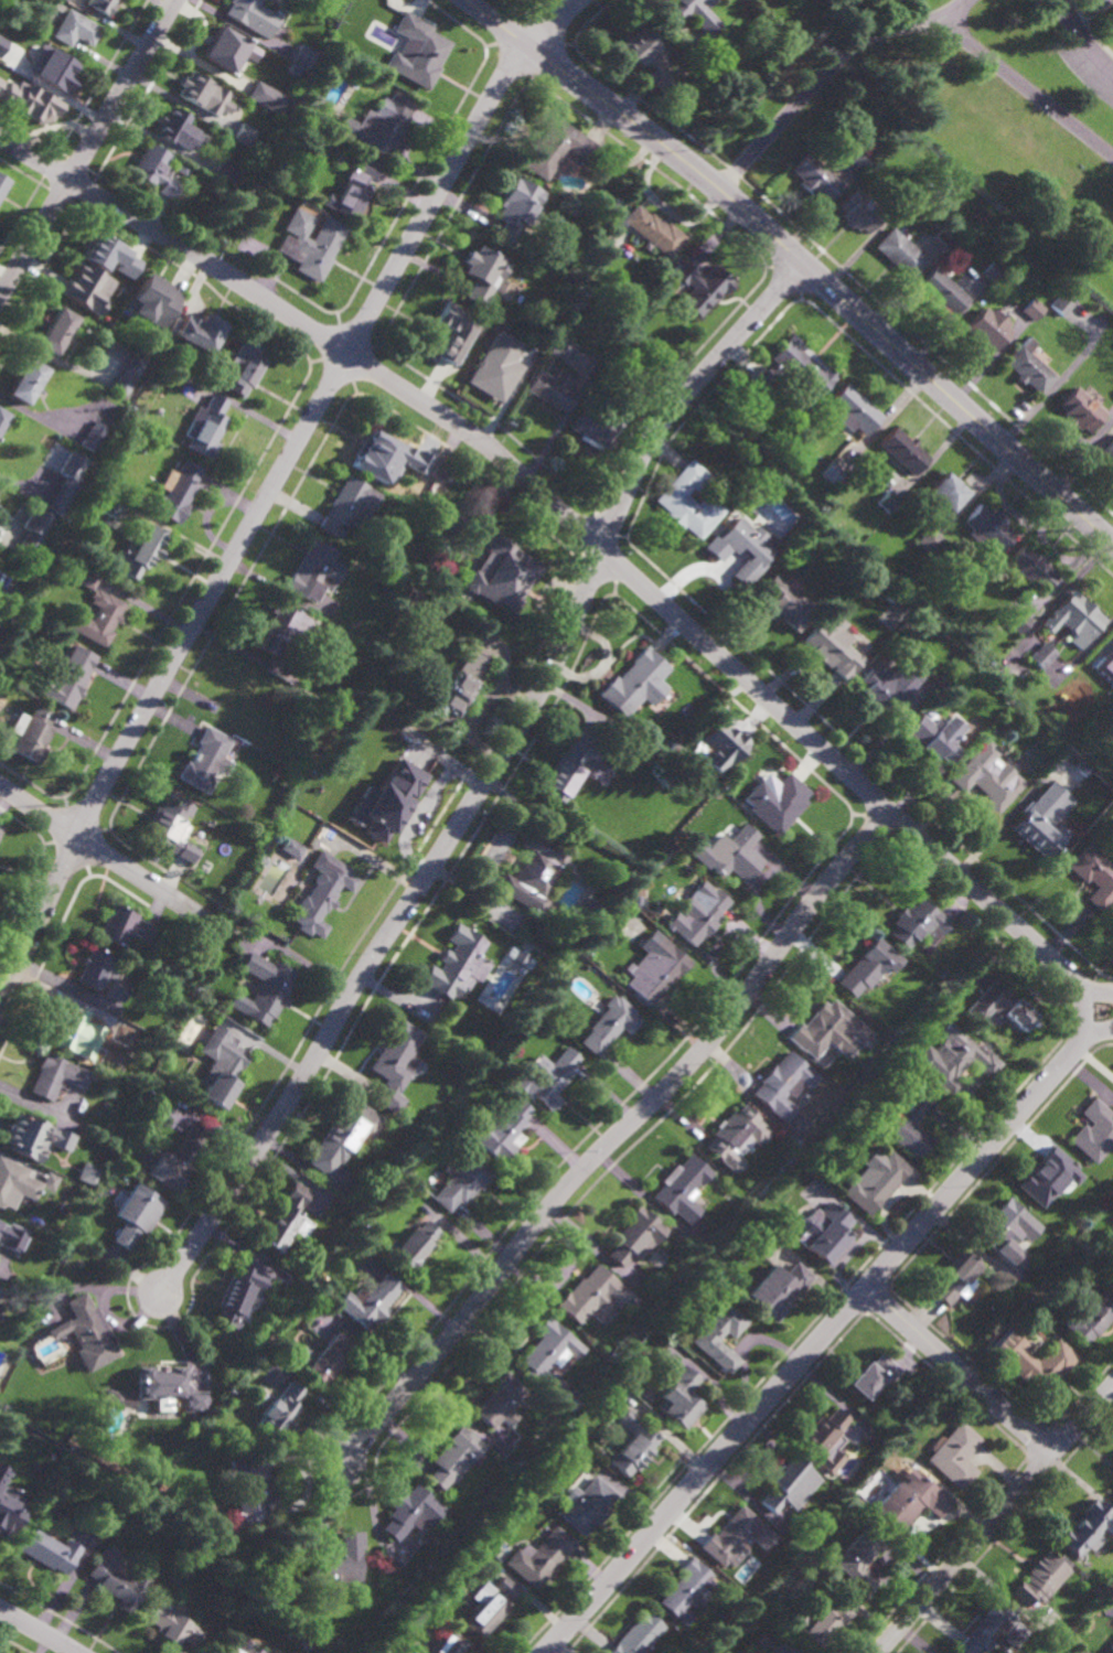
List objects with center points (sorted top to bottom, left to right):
building: (65, 0)
building: (269, 0)
building: (340, 3)
parking lot: (1095, 3)
building: (103, 4)
building: (244, 11)
building: (693, 13)
building: (76, 29)
road: (1081, 43)
building: (2, 44)
building: (227, 47)
building: (417, 51)
parking lot: (1083, 54)
building: (302, 55)
building: (641, 55)
building: (15, 60)
building: (58, 71)
road: (830, 71)
building: (0, 80)
road: (1028, 90)
building: (259, 93)
building: (204, 94)
building: (24, 98)
building: (378, 125)
building: (176, 128)
building: (244, 133)
road: (88, 149)
building: (556, 149)
building: (860, 158)
building: (180, 168)
building: (154, 172)
building: (223, 172)
building: (814, 176)
building: (3, 184)
building: (355, 189)
building: (907, 194)
building: (518, 207)
building: (859, 211)
building: (652, 230)
building: (945, 234)
building: (310, 243)
building: (900, 253)
building: (109, 256)
road: (800, 258)
building: (989, 270)
building: (482, 275)
building: (699, 286)
building: (87, 288)
building: (941, 292)
building: (580, 293)
building: (154, 301)
building: (1059, 304)
building: (1031, 310)
building: (988, 328)
building: (57, 332)
building: (200, 334)
building: (456, 335)
building: (528, 350)
building: (560, 350)
building: (494, 367)
building: (1027, 367)
building: (240, 368)
building: (795, 369)
building: (128, 374)
building: (28, 383)
building: (550, 390)
building: (853, 409)
building: (1079, 410)
building: (2, 417)
building: (603, 421)
building: (206, 428)
building: (93, 434)
building: (1109, 448)
building: (903, 449)
building: (381, 453)
building: (72, 464)
building: (832, 472)
building: (178, 490)
building: (946, 490)
road: (271, 491)
building: (61, 498)
building: (688, 500)
building: (888, 501)
building: (349, 504)
building: (110, 505)
building: (987, 527)
building: (34, 532)
building: (340, 532)
building: (930, 539)
building: (141, 547)
building: (748, 547)
building: (1032, 566)
building: (312, 569)
building: (503, 572)
building: (89, 578)
building: (970, 580)
building: (786, 602)
building: (418, 603)
building: (1074, 616)
building: (99, 618)
building: (1019, 622)
building: (283, 625)
building: (834, 647)
building: (1042, 655)
building: (1105, 664)
building: (74, 676)
building: (940, 678)
building: (946, 681)
building: (635, 683)
building: (892, 684)
building: (459, 686)
building: (244, 699)
building: (992, 733)
building: (34, 734)
building: (937, 736)
building: (718, 744)
building: (673, 749)
building: (208, 761)
building: (570, 766)
building: (1080, 766)
building: (989, 776)
road: (488, 779)
building: (374, 790)
building: (781, 804)
road: (895, 813)
building: (1041, 820)
building: (1, 828)
building: (171, 830)
road: (92, 844)
building: (291, 848)
building: (736, 855)
building: (533, 872)
building: (1095, 874)
building: (321, 893)
building: (592, 909)
building: (696, 914)
building: (117, 924)
building: (918, 924)
building: (146, 932)
building: (454, 963)
building: (655, 967)
building: (867, 967)
building: (940, 973)
building: (103, 974)
building: (264, 989)
road: (1100, 991)
building: (1002, 1008)
building: (609, 1024)
building: (828, 1031)
road: (1100, 1031)
building: (74, 1032)
building: (907, 1048)
building: (953, 1061)
building: (394, 1063)
building: (222, 1075)
building: (56, 1076)
building: (546, 1077)
building: (783, 1085)
building: (912, 1125)
building: (1095, 1130)
building: (501, 1131)
building: (736, 1134)
building: (344, 1135)
road: (616, 1135)
building: (32, 1138)
building: (810, 1155)
building: (179, 1159)
building: (85, 1173)
building: (1048, 1176)
building: (462, 1178)
building: (19, 1182)
building: (876, 1182)
building: (683, 1188)
building: (760, 1211)
building: (136, 1212)
building: (287, 1217)
building: (824, 1233)
building: (634, 1234)
building: (1006, 1234)
building: (9, 1235)
building: (411, 1243)
building: (3, 1260)
building: (956, 1278)
building: (779, 1288)
building: (239, 1292)
building: (592, 1294)
building: (370, 1299)
building: (1091, 1316)
building: (86, 1331)
building: (721, 1337)
building: (548, 1350)
building: (323, 1357)
building: (1034, 1359)
building: (258, 1365)
road: (962, 1372)
building: (875, 1375)
building: (168, 1385)
building: (681, 1397)
building: (120, 1398)
building: (499, 1400)
building: (281, 1408)
road: (1084, 1423)
building: (882, 1424)
building: (823, 1431)
building: (634, 1445)
building: (955, 1455)
building: (452, 1456)
building: (2, 1472)
building: (789, 1484)
building: (248, 1486)
building: (1112, 1495)
building: (912, 1501)
building: (588, 1505)
building: (409, 1512)
building: (8, 1523)
building: (1083, 1527)
building: (735, 1535)
building: (817, 1545)
building: (47, 1550)
road: (968, 1554)
building: (541, 1556)
building: (861, 1559)
building: (338, 1561)
building: (1040, 1578)
building: (117, 1580)
building: (1102, 1582)
building: (685, 1587)
building: (1095, 1591)
building: (491, 1604)
building: (379, 1616)
building: (172, 1622)
building: (822, 1622)
road: (38, 1631)
building: (992, 1631)
building: (638, 1635)
building: (336, 1640)
building: (452, 1643)
building: (1062, 1644)
building: (1112, 1644)
building: (233, 1650)
building: (790, 1651)
building: (260, 1652)
building: (373, 1652)
building: (410, 1652)
building: (428, 1652)
building: (946, 1652)

